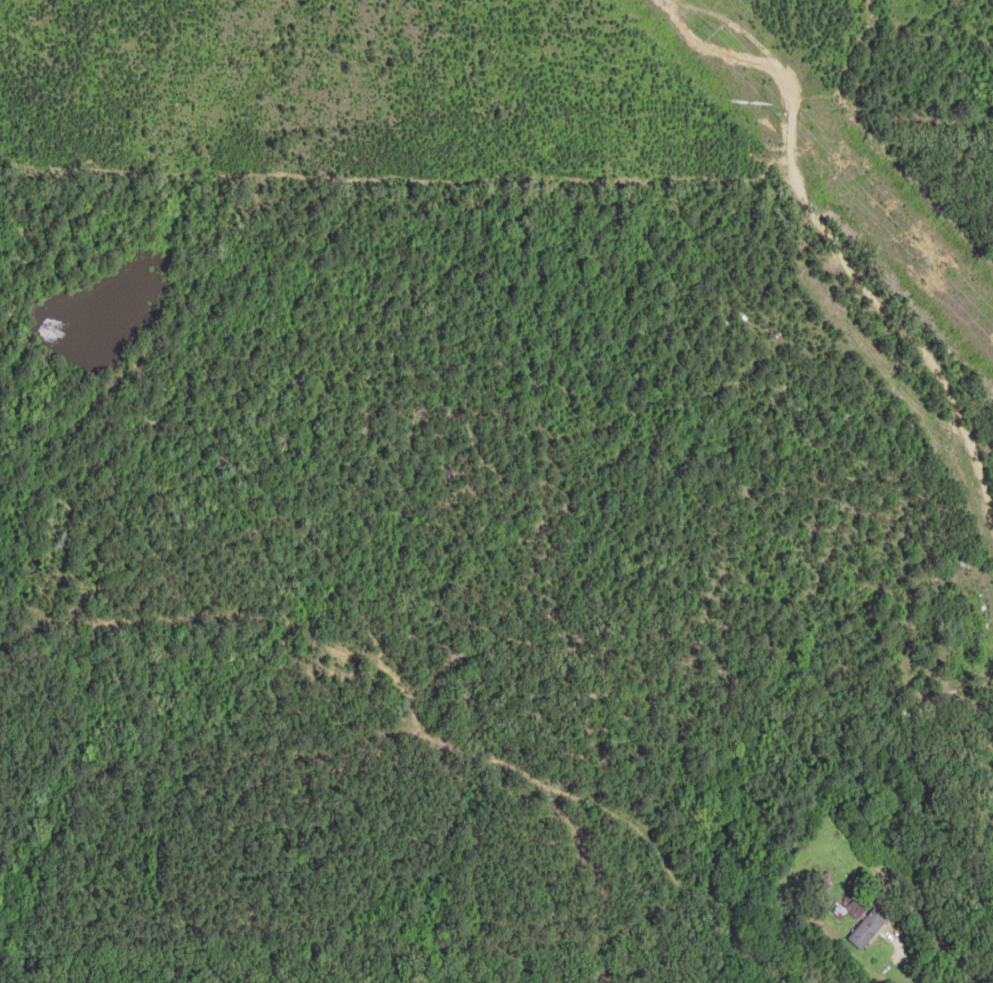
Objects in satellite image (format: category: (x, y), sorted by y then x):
building: (989, 599)
road: (907, 906)
building: (869, 928)

